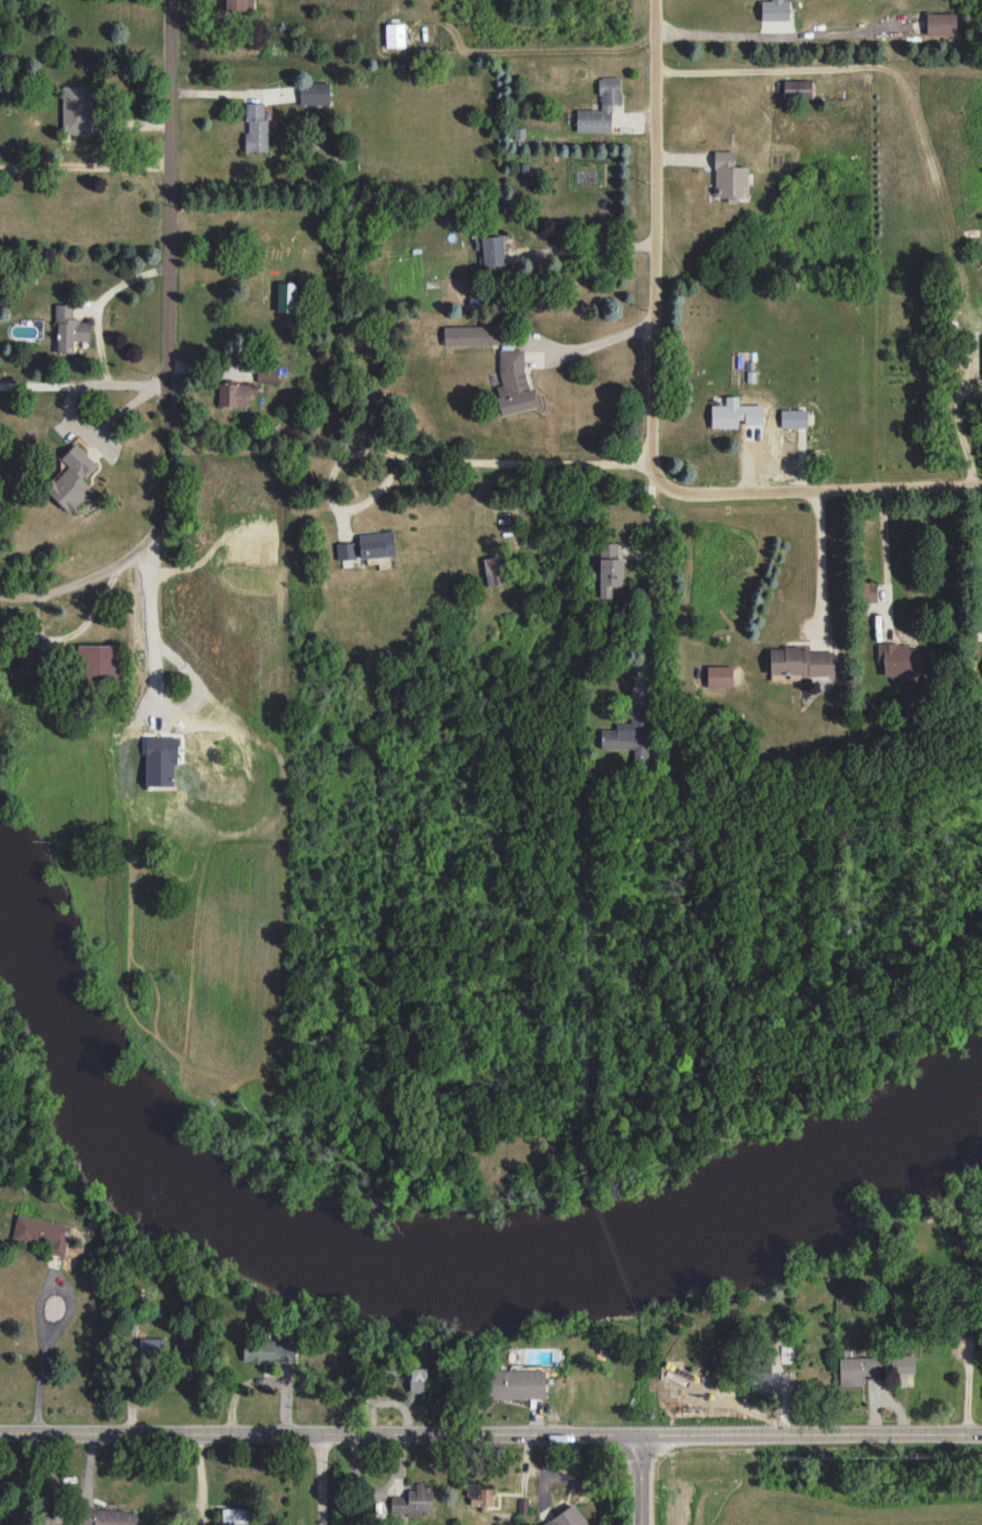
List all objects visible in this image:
building: (238, 5)
building: (774, 10)
building: (940, 23)
building: (394, 35)
road: (712, 35)
road: (743, 68)
building: (797, 89)
road: (228, 93)
building: (314, 93)
building: (600, 108)
building: (75, 109)
building: (256, 128)
road: (85, 165)
building: (728, 177)
road: (584, 247)
road: (654, 250)
building: (492, 251)
road: (102, 301)
building: (69, 329)
building: (470, 335)
building: (981, 339)
road: (598, 341)
road: (166, 354)
building: (267, 373)
road: (83, 379)
building: (513, 383)
building: (235, 394)
building: (725, 414)
building: (751, 417)
road: (959, 426)
road: (424, 458)
building: (71, 478)
road: (828, 493)
road: (980, 528)
building: (367, 546)
road: (883, 562)
road: (819, 563)
building: (609, 569)
building: (494, 570)
road: (650, 585)
building: (867, 592)
road: (149, 634)
building: (29, 658)
building: (898, 660)
building: (799, 662)
building: (98, 663)
building: (719, 676)
building: (630, 737)
building: (42, 1233)
river: (427, 1263)
road: (42, 1323)
building: (151, 1348)
building: (268, 1351)
building: (787, 1354)
building: (902, 1364)
building: (857, 1370)
building: (761, 1374)
building: (418, 1380)
building: (515, 1384)
road: (490, 1438)
road: (318, 1481)
road: (641, 1481)
building: (479, 1497)
building: (412, 1501)
building: (231, 1516)
building: (107, 1517)
building: (567, 1517)
building: (46, 1522)
building: (69, 1524)

